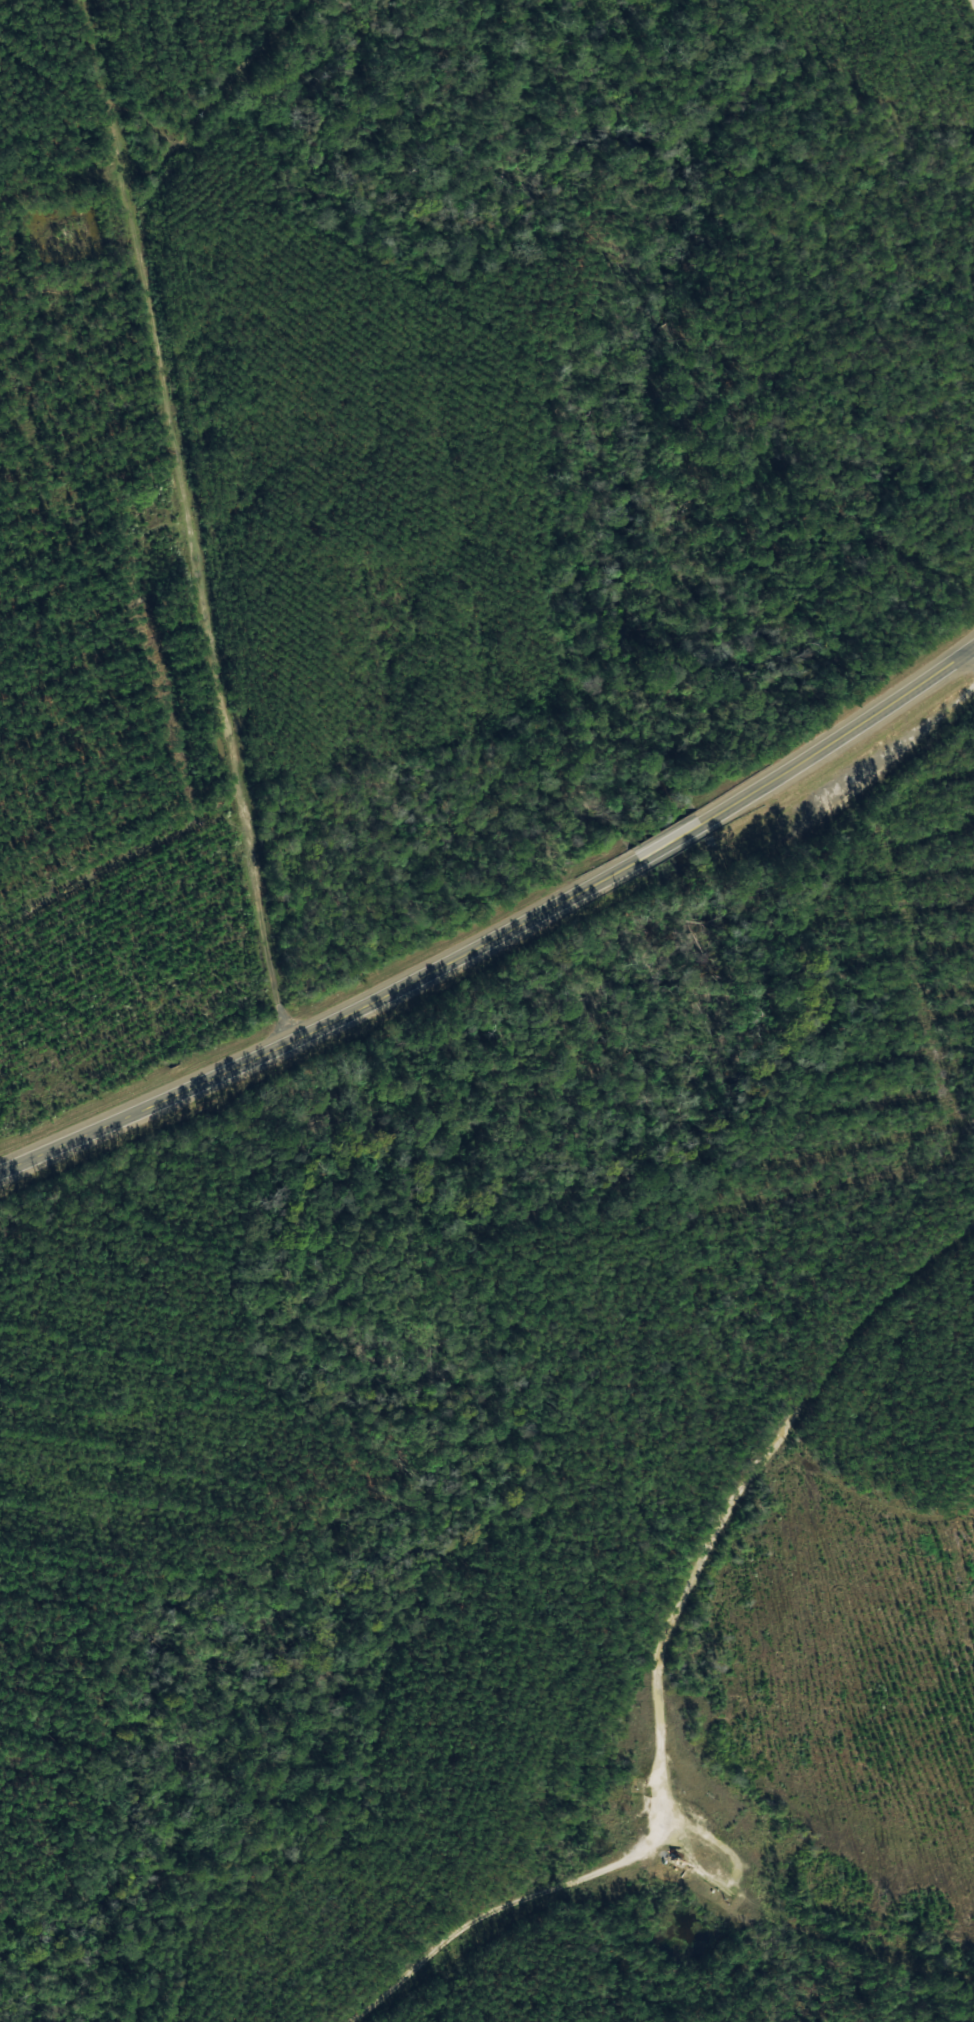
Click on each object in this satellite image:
road: (185, 520)
road: (499, 935)

